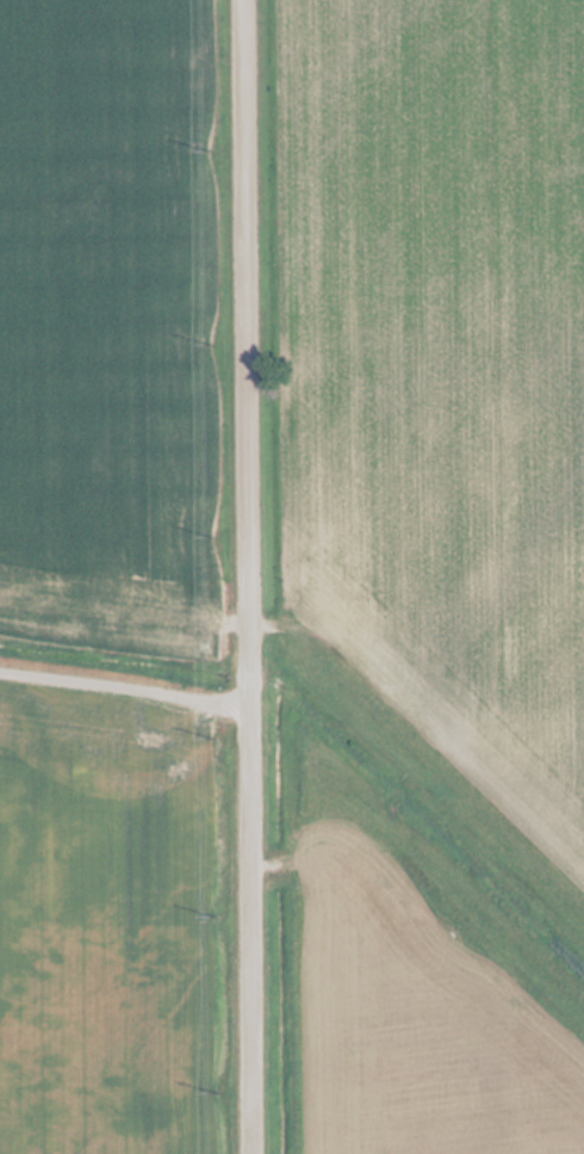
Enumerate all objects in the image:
road: (249, 576)
road: (125, 679)

